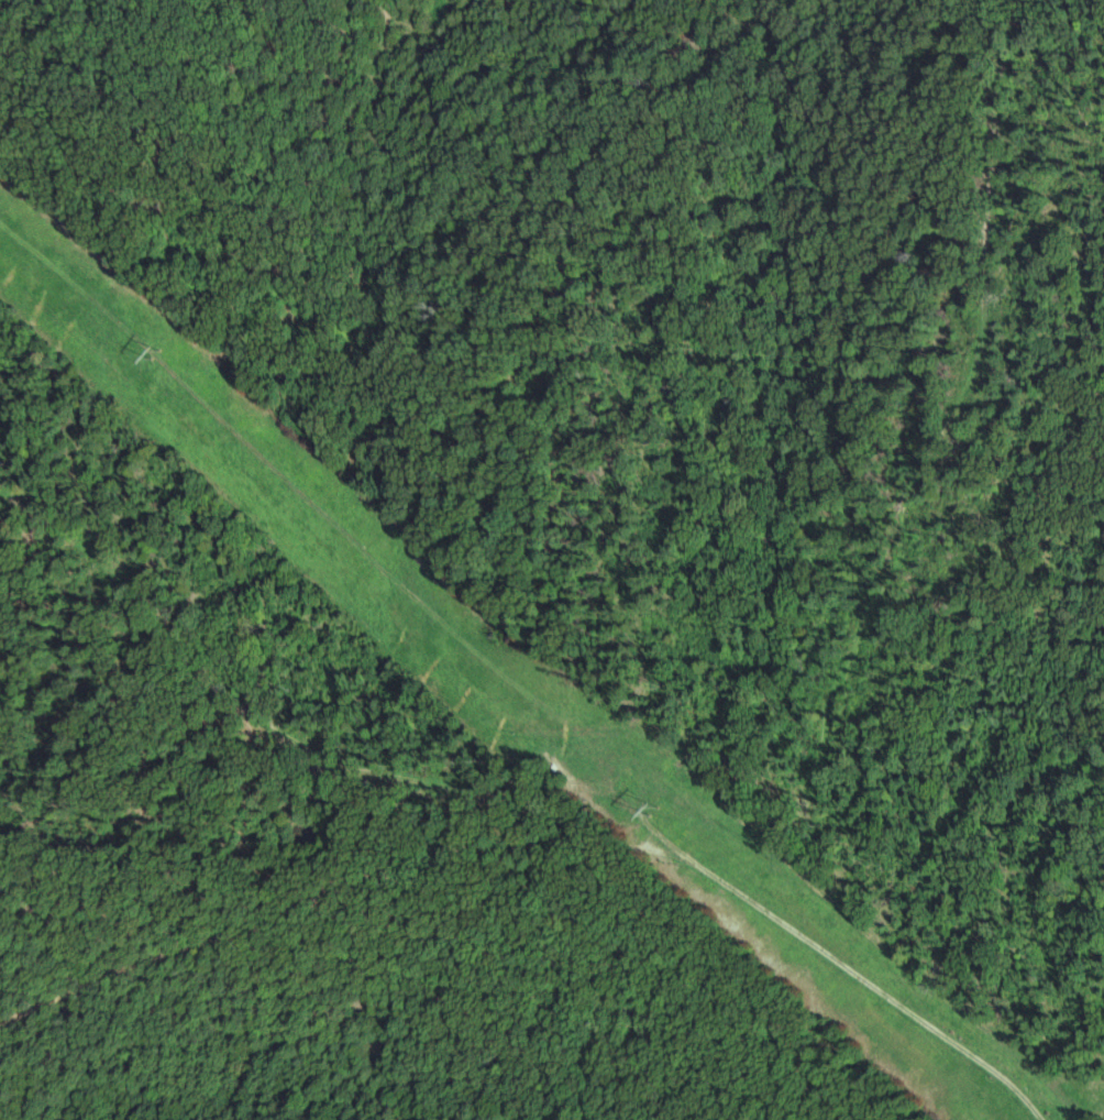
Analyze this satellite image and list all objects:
power tower: (158, 356)
power tower: (655, 811)

